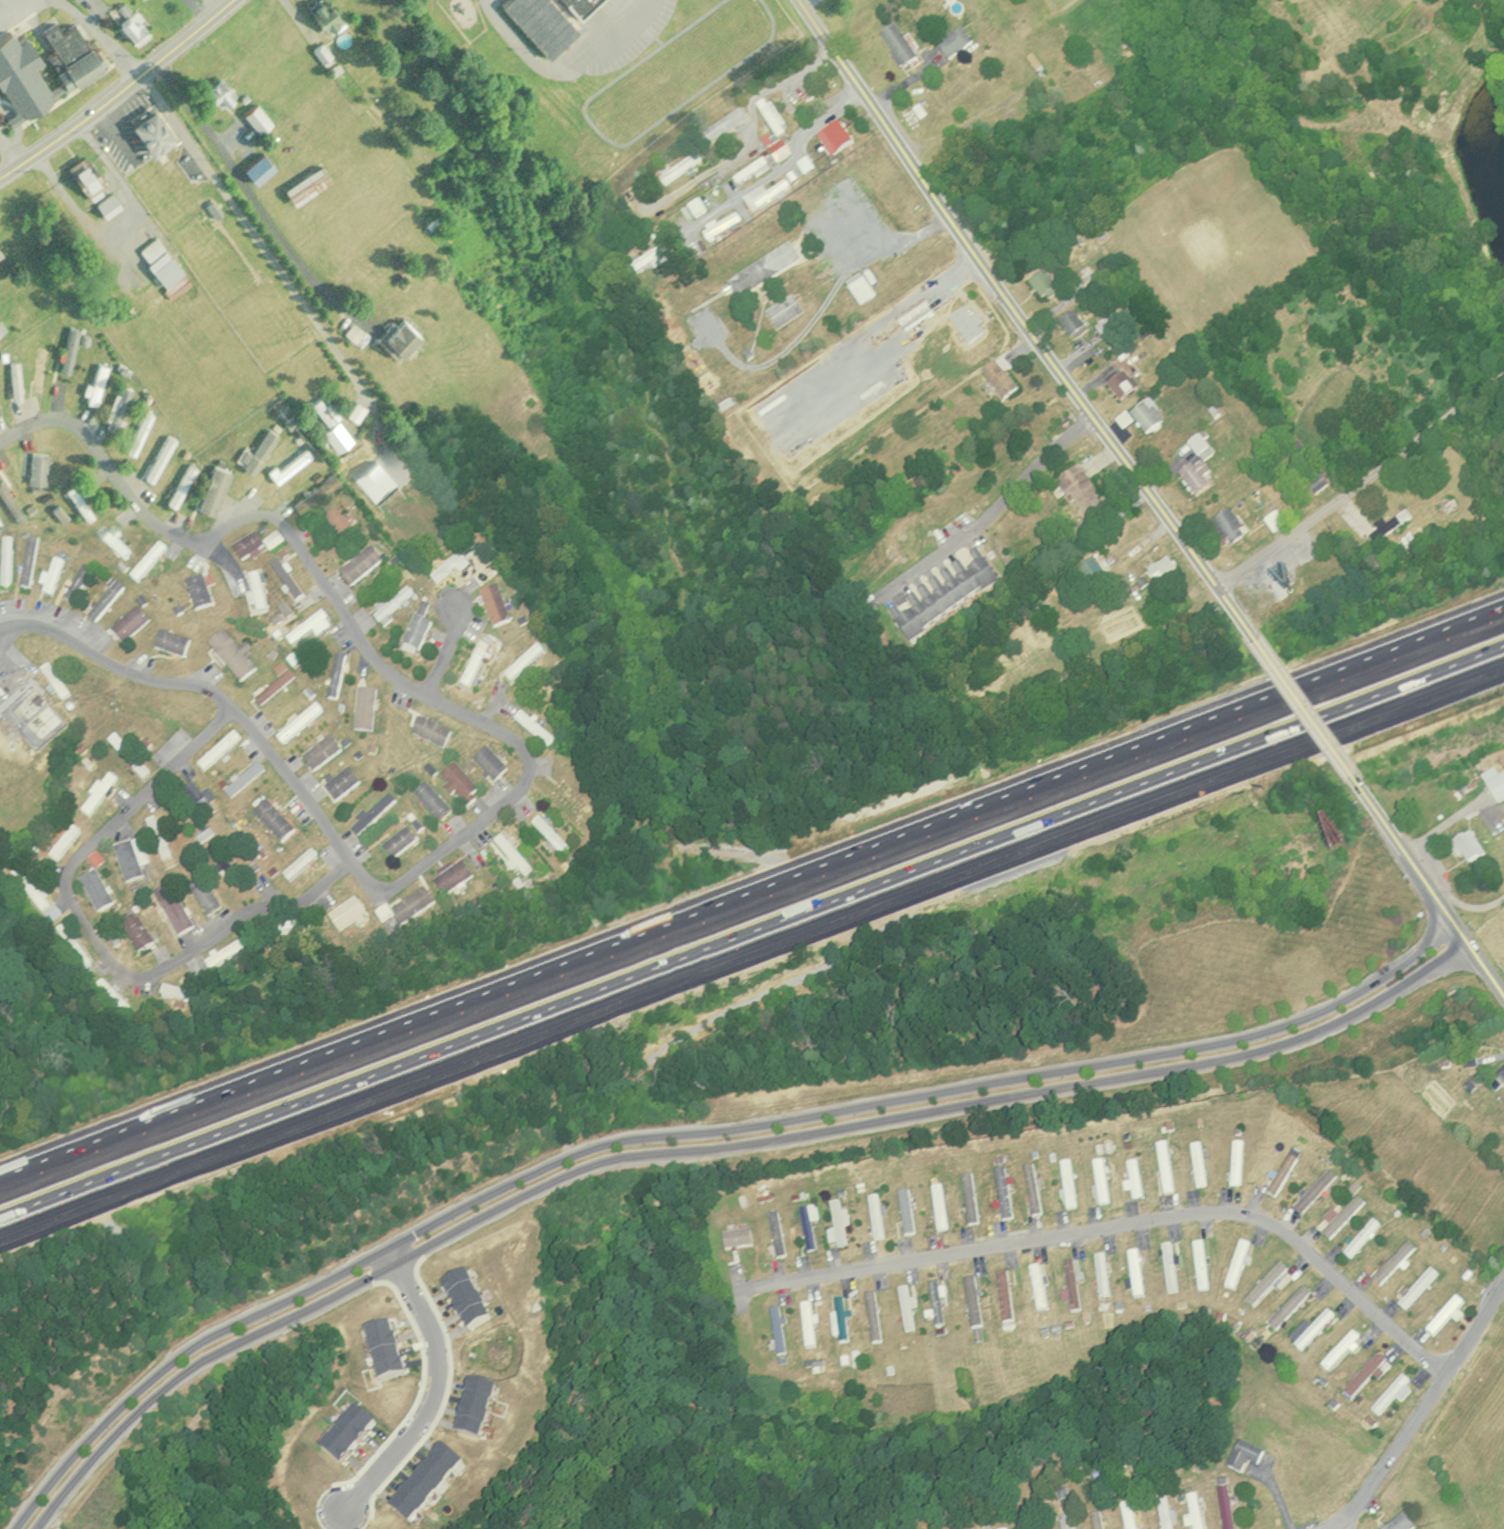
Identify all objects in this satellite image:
road: (90, 34)
road: (564, 66)
road: (113, 85)
road: (778, 158)
road: (248, 188)
road: (249, 229)
road: (868, 277)
road: (1019, 321)
road: (884, 391)
road: (1360, 476)
road: (988, 504)
road: (445, 652)
road: (2, 660)
road: (1305, 707)
road: (525, 756)
road: (1430, 886)
road: (751, 891)
road: (1471, 901)
road: (97, 938)
road: (751, 950)
road: (702, 1140)
road: (1114, 1224)
road: (433, 1398)
road: (1420, 1411)

